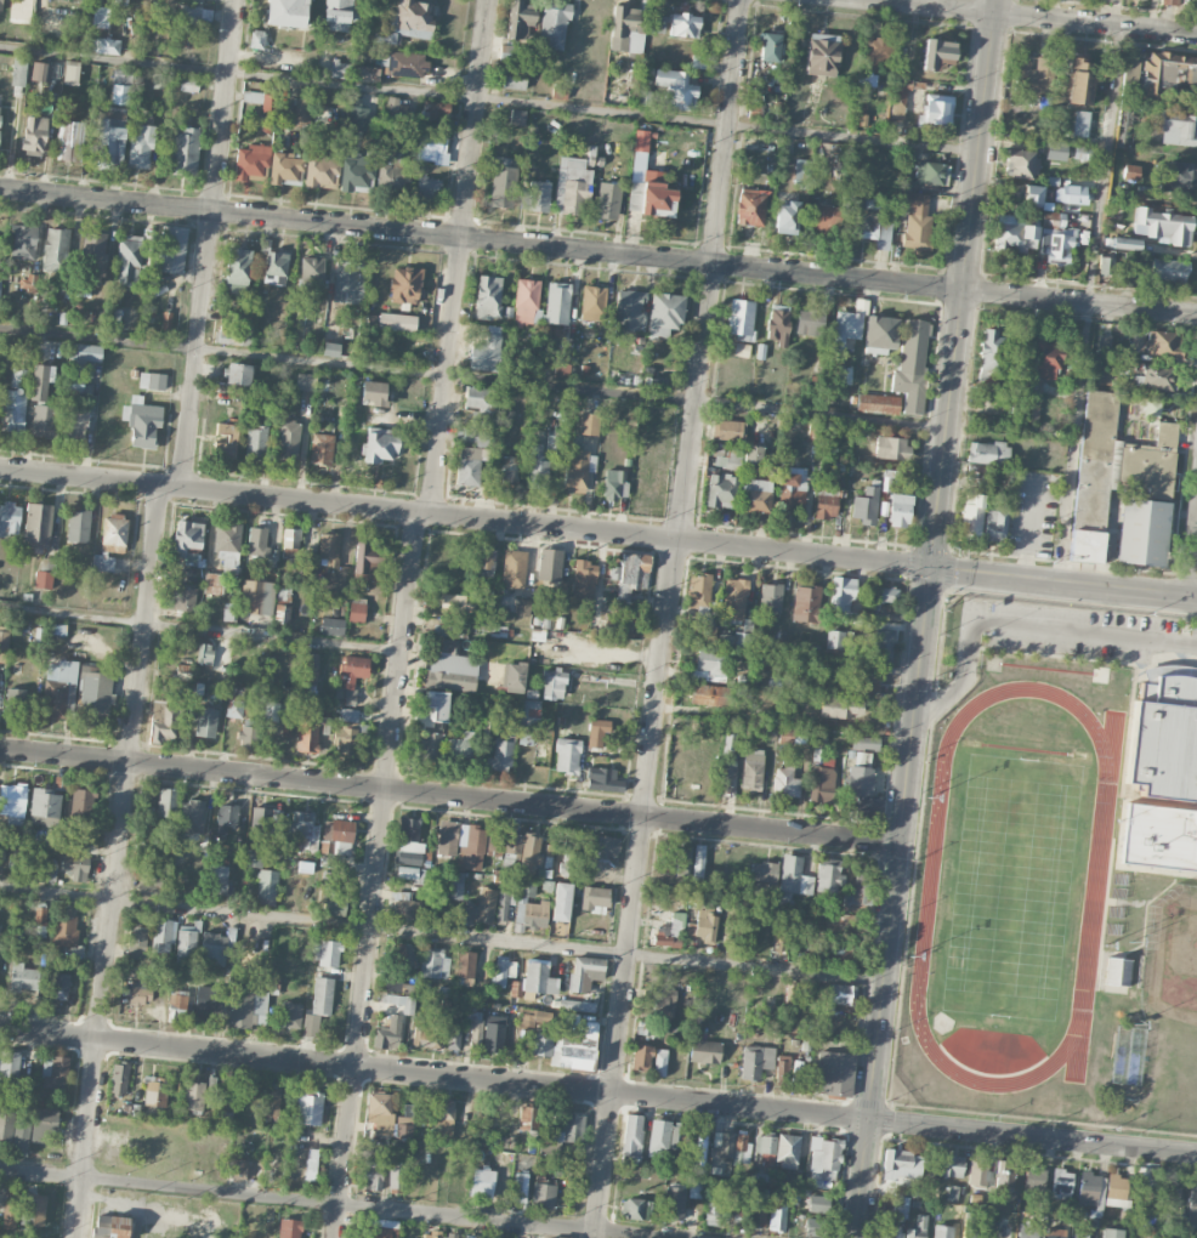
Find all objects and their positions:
building: (118, 1)
building: (1169, 1)
building: (1, 4)
building: (19, 11)
building: (195, 13)
building: (285, 13)
building: (339, 15)
building: (100, 16)
road: (1032, 17)
building: (520, 18)
building: (408, 21)
building: (662, 23)
building: (683, 24)
building: (551, 28)
building: (626, 28)
building: (106, 44)
building: (768, 45)
building: (506, 52)
building: (937, 53)
building: (822, 55)
building: (403, 64)
building: (336, 68)
building: (17, 72)
building: (39, 72)
building: (70, 72)
building: (370, 72)
building: (1032, 75)
building: (1169, 75)
building: (514, 76)
building: (159, 80)
building: (1082, 83)
building: (189, 84)
building: (120, 87)
building: (676, 89)
building: (259, 97)
building: (900, 97)
road: (488, 98)
building: (266, 101)
building: (391, 108)
building: (435, 109)
building: (754, 109)
building: (300, 110)
building: (361, 112)
building: (936, 112)
building: (517, 117)
building: (1080, 123)
building: (1175, 129)
building: (34, 135)
building: (69, 140)
building: (641, 140)
building: (109, 142)
building: (140, 146)
building: (431, 146)
building: (183, 151)
building: (1055, 151)
building: (1082, 152)
building: (249, 161)
building: (1021, 163)
building: (392, 166)
building: (285, 170)
building: (320, 171)
building: (1131, 171)
building: (801, 172)
building: (929, 172)
building: (356, 174)
building: (1179, 177)
building: (501, 182)
building: (572, 186)
building: (426, 189)
building: (656, 193)
building: (1032, 194)
building: (1071, 194)
building: (537, 195)
building: (634, 195)
building: (607, 200)
building: (750, 206)
building: (785, 217)
building: (824, 217)
building: (915, 220)
building: (868, 223)
building: (1163, 226)
building: (1015, 233)
building: (22, 242)
road: (210, 244)
building: (1127, 244)
building: (1056, 246)
building: (56, 249)
building: (172, 249)
road: (597, 251)
building: (93, 257)
road: (460, 257)
building: (127, 259)
building: (1105, 265)
building: (274, 267)
building: (237, 269)
road: (713, 269)
building: (311, 271)
building: (1168, 271)
building: (29, 282)
building: (347, 284)
building: (404, 285)
building: (488, 297)
building: (557, 302)
building: (591, 302)
building: (527, 303)
road: (1087, 303)
building: (629, 309)
building: (664, 313)
building: (741, 318)
building: (113, 319)
building: (166, 319)
building: (397, 322)
building: (810, 322)
building: (778, 324)
building: (846, 328)
building: (234, 334)
building: (880, 334)
building: (1104, 343)
building: (1163, 343)
building: (330, 350)
building: (742, 350)
building: (85, 352)
building: (991, 352)
building: (486, 353)
building: (1042, 364)
building: (912, 365)
building: (561, 370)
building: (237, 373)
road: (472, 377)
building: (1157, 377)
building: (152, 380)
building: (305, 381)
building: (373, 392)
building: (480, 399)
building: (15, 401)
building: (39, 403)
building: (878, 404)
building: (1152, 407)
building: (142, 421)
building: (75, 422)
building: (589, 424)
building: (730, 430)
building: (472, 436)
building: (287, 438)
building: (225, 439)
building: (255, 441)
building: (380, 444)
building: (320, 448)
building: (892, 448)
building: (987, 453)
building: (751, 456)
building: (726, 461)
building: (1155, 462)
building: (467, 466)
building: (537, 467)
building: (505, 470)
building: (575, 471)
building: (1095, 475)
building: (614, 483)
building: (792, 489)
building: (721, 490)
building: (756, 495)
building: (827, 502)
building: (866, 505)
building: (900, 510)
building: (971, 516)
building: (8, 519)
building: (994, 524)
building: (78, 526)
building: (36, 528)
road: (597, 532)
building: (1142, 532)
building: (110, 539)
building: (187, 539)
building: (290, 541)
building: (227, 543)
building: (257, 543)
building: (328, 549)
road: (1192, 556)
building: (486, 561)
building: (364, 562)
building: (549, 564)
traffic signals: (930, 567)
building: (514, 568)
building: (44, 573)
building: (631, 574)
building: (584, 580)
building: (212, 584)
building: (699, 590)
building: (841, 592)
building: (885, 594)
building: (256, 596)
building: (734, 598)
building: (770, 598)
building: (185, 601)
building: (805, 603)
building: (454, 604)
building: (522, 607)
building: (356, 609)
building: (280, 613)
building: (700, 613)
road: (924, 619)
road: (1017, 623)
building: (330, 624)
road: (199, 627)
building: (448, 630)
building: (708, 635)
building: (4, 637)
building: (838, 638)
building: (728, 640)
building: (883, 644)
building: (204, 654)
building: (710, 663)
building: (311, 669)
building: (452, 669)
building: (353, 671)
building: (183, 672)
building: (514, 677)
building: (857, 680)
building: (775, 681)
building: (552, 683)
building: (59, 691)
building: (95, 695)
building: (710, 695)
building: (19, 699)
building: (236, 700)
building: (435, 704)
building: (841, 708)
building: (161, 721)
building: (204, 721)
building: (287, 729)
building: (307, 731)
building: (596, 732)
building: (787, 734)
building: (246, 737)
building: (1164, 737)
building: (347, 738)
building: (728, 743)
building: (866, 743)
building: (431, 744)
building: (461, 745)
building: (819, 748)
building: (501, 753)
building: (567, 755)
building: (862, 759)
building: (751, 768)
building: (602, 779)
building: (725, 779)
building: (785, 782)
building: (822, 784)
building: (863, 794)
road: (448, 797)
building: (166, 802)
building: (81, 803)
building: (12, 805)
building: (45, 805)
building: (191, 814)
building: (227, 816)
building: (266, 822)
building: (302, 824)
building: (408, 829)
building: (335, 834)
building: (1158, 836)
building: (447, 837)
building: (503, 841)
building: (608, 846)
building: (472, 848)
building: (529, 853)
building: (409, 857)
building: (254, 858)
building: (567, 858)
building: (682, 859)
road: (118, 861)
building: (698, 862)
building: (74, 867)
building: (45, 869)
building: (764, 871)
building: (412, 874)
road: (376, 875)
building: (828, 876)
building: (793, 879)
building: (219, 880)
track: (1095, 884)
building: (454, 885)
building: (266, 886)
road: (635, 888)
park: (1011, 888)
building: (148, 890)
building: (857, 893)
building: (524, 895)
building: (594, 899)
building: (561, 902)
building: (334, 905)
building: (482, 907)
building: (501, 908)
building: (534, 914)
building: (40, 920)
building: (839, 922)
building: (705, 926)
building: (66, 930)
building: (669, 932)
road: (441, 935)
building: (163, 936)
building: (136, 937)
building: (186, 941)
building: (215, 948)
building: (841, 952)
building: (329, 953)
building: (402, 958)
building: (433, 964)
building: (465, 966)
building: (504, 971)
building: (1117, 971)
building: (585, 972)
building: (23, 977)
building: (63, 981)
building: (534, 981)
building: (792, 993)
building: (841, 994)
building: (138, 995)
building: (320, 995)
building: (659, 1000)
building: (206, 1001)
building: (810, 1001)
building: (177, 1003)
building: (401, 1003)
building: (577, 1005)
building: (246, 1007)
building: (473, 1013)
park: (1168, 1013)
building: (290, 1015)
building: (534, 1017)
building: (310, 1024)
building: (475, 1032)
building: (388, 1033)
building: (493, 1033)
building: (425, 1037)
building: (453, 1037)
building: (567, 1043)
building: (704, 1051)
building: (641, 1057)
building: (755, 1061)
building: (659, 1062)
building: (8, 1066)
building: (788, 1071)
building: (53, 1072)
building: (834, 1073)
building: (118, 1077)
building: (154, 1091)
road: (598, 1091)
building: (193, 1096)
building: (272, 1100)
building: (225, 1104)
building: (307, 1108)
building: (443, 1109)
building: (380, 1112)
building: (44, 1118)
building: (528, 1118)
building: (5, 1124)
building: (403, 1126)
building: (572, 1128)
building: (675, 1135)
building: (631, 1136)
building: (658, 1138)
building: (722, 1143)
building: (765, 1143)
building: (741, 1147)
building: (787, 1149)
building: (698, 1151)
building: (824, 1158)
building: (900, 1163)
building: (311, 1164)
building: (952, 1165)
building: (237, 1169)
building: (977, 1172)
building: (373, 1174)
building: (1004, 1174)
building: (1146, 1176)
building: (396, 1177)
building: (1033, 1177)
building: (1061, 1181)
building: (482, 1183)
building: (520, 1187)
building: (696, 1187)
building: (1091, 1188)
building: (1116, 1191)
building: (543, 1192)
building: (1169, 1192)
road: (328, 1202)
building: (674, 1203)
building: (817, 1203)
building: (1192, 1204)
building: (10, 1208)
building: (902, 1208)
building: (634, 1209)
building: (714, 1209)
building: (33, 1210)
building: (758, 1214)
building: (777, 1215)
building: (969, 1225)
building: (109, 1226)
building: (815, 1227)
building: (917, 1227)
building: (289, 1228)
building: (378, 1228)
building: (887, 1231)
building: (1027, 1231)
building: (1055, 1233)
building: (1111, 1233)
building: (1145, 1233)
building: (438, 1234)
building: (1082, 1236)
building: (548, 1237)

